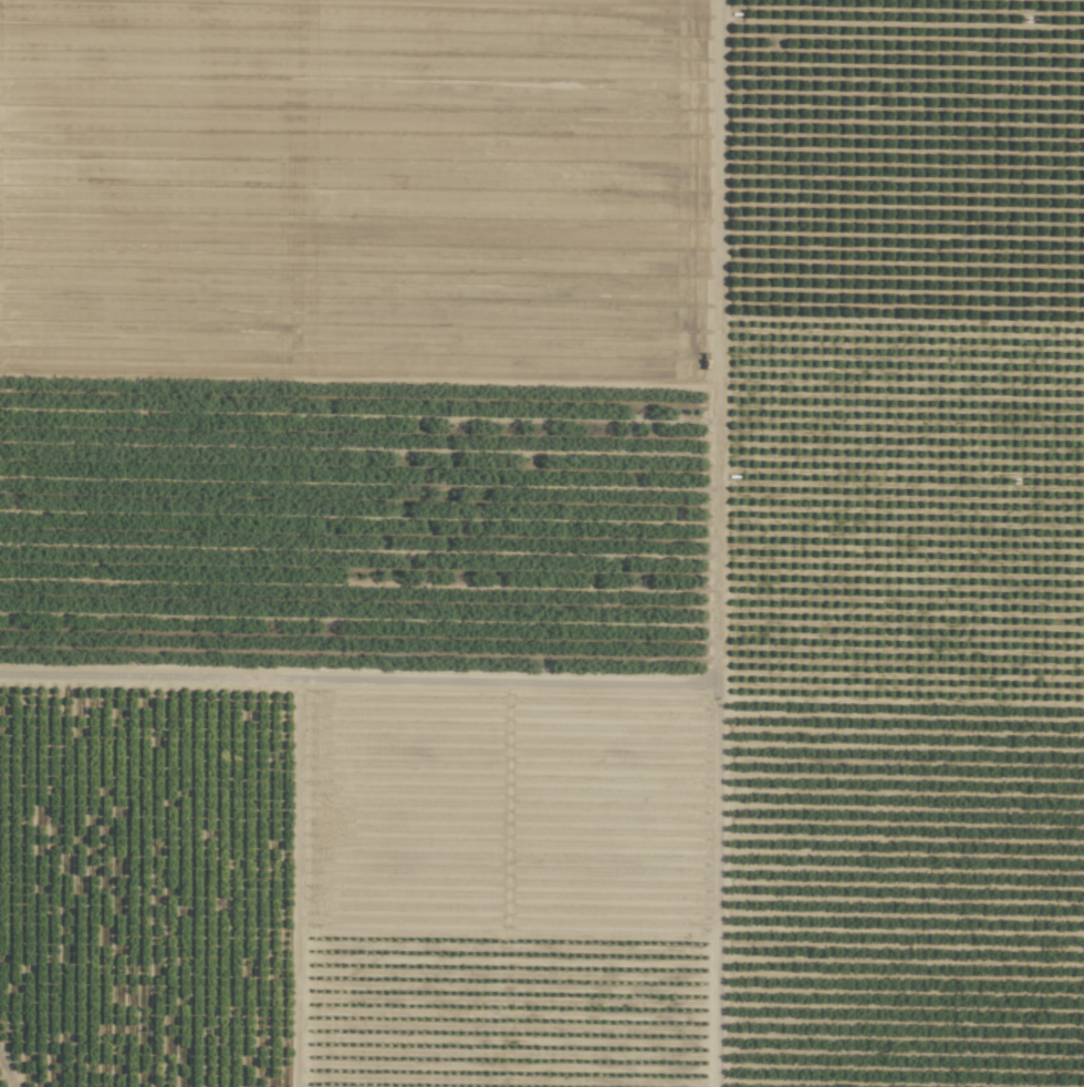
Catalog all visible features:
road: (8, 1067)

